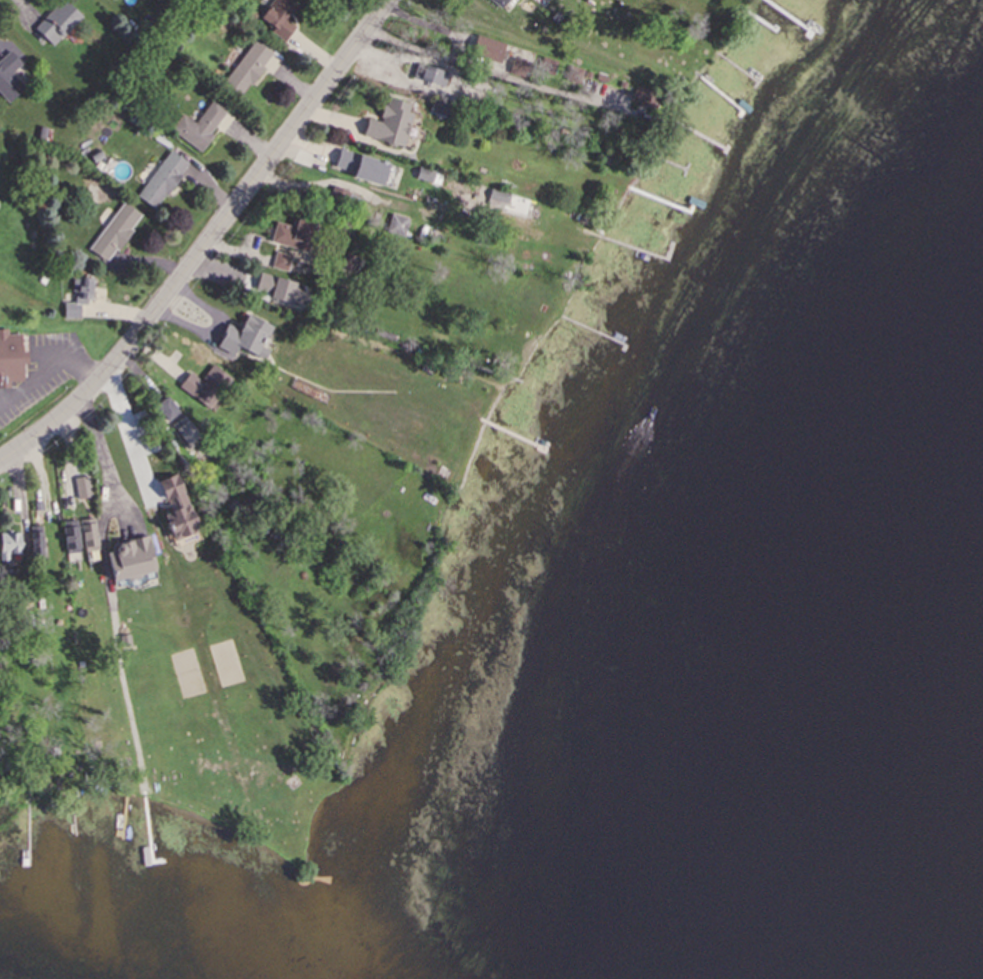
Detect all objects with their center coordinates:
building: (280, 19)
building: (59, 24)
road: (509, 50)
building: (485, 52)
building: (249, 68)
building: (436, 77)
building: (10, 79)
building: (392, 127)
building: (202, 128)
building: (363, 169)
building: (164, 182)
building: (116, 234)
building: (294, 237)
road: (209, 245)
building: (277, 288)
building: (80, 300)
building: (249, 340)
building: (12, 363)
road: (50, 367)
road: (132, 439)
road: (105, 462)
building: (173, 489)
building: (184, 525)
building: (73, 537)
building: (93, 540)
building: (38, 544)
building: (12, 550)
building: (134, 562)

